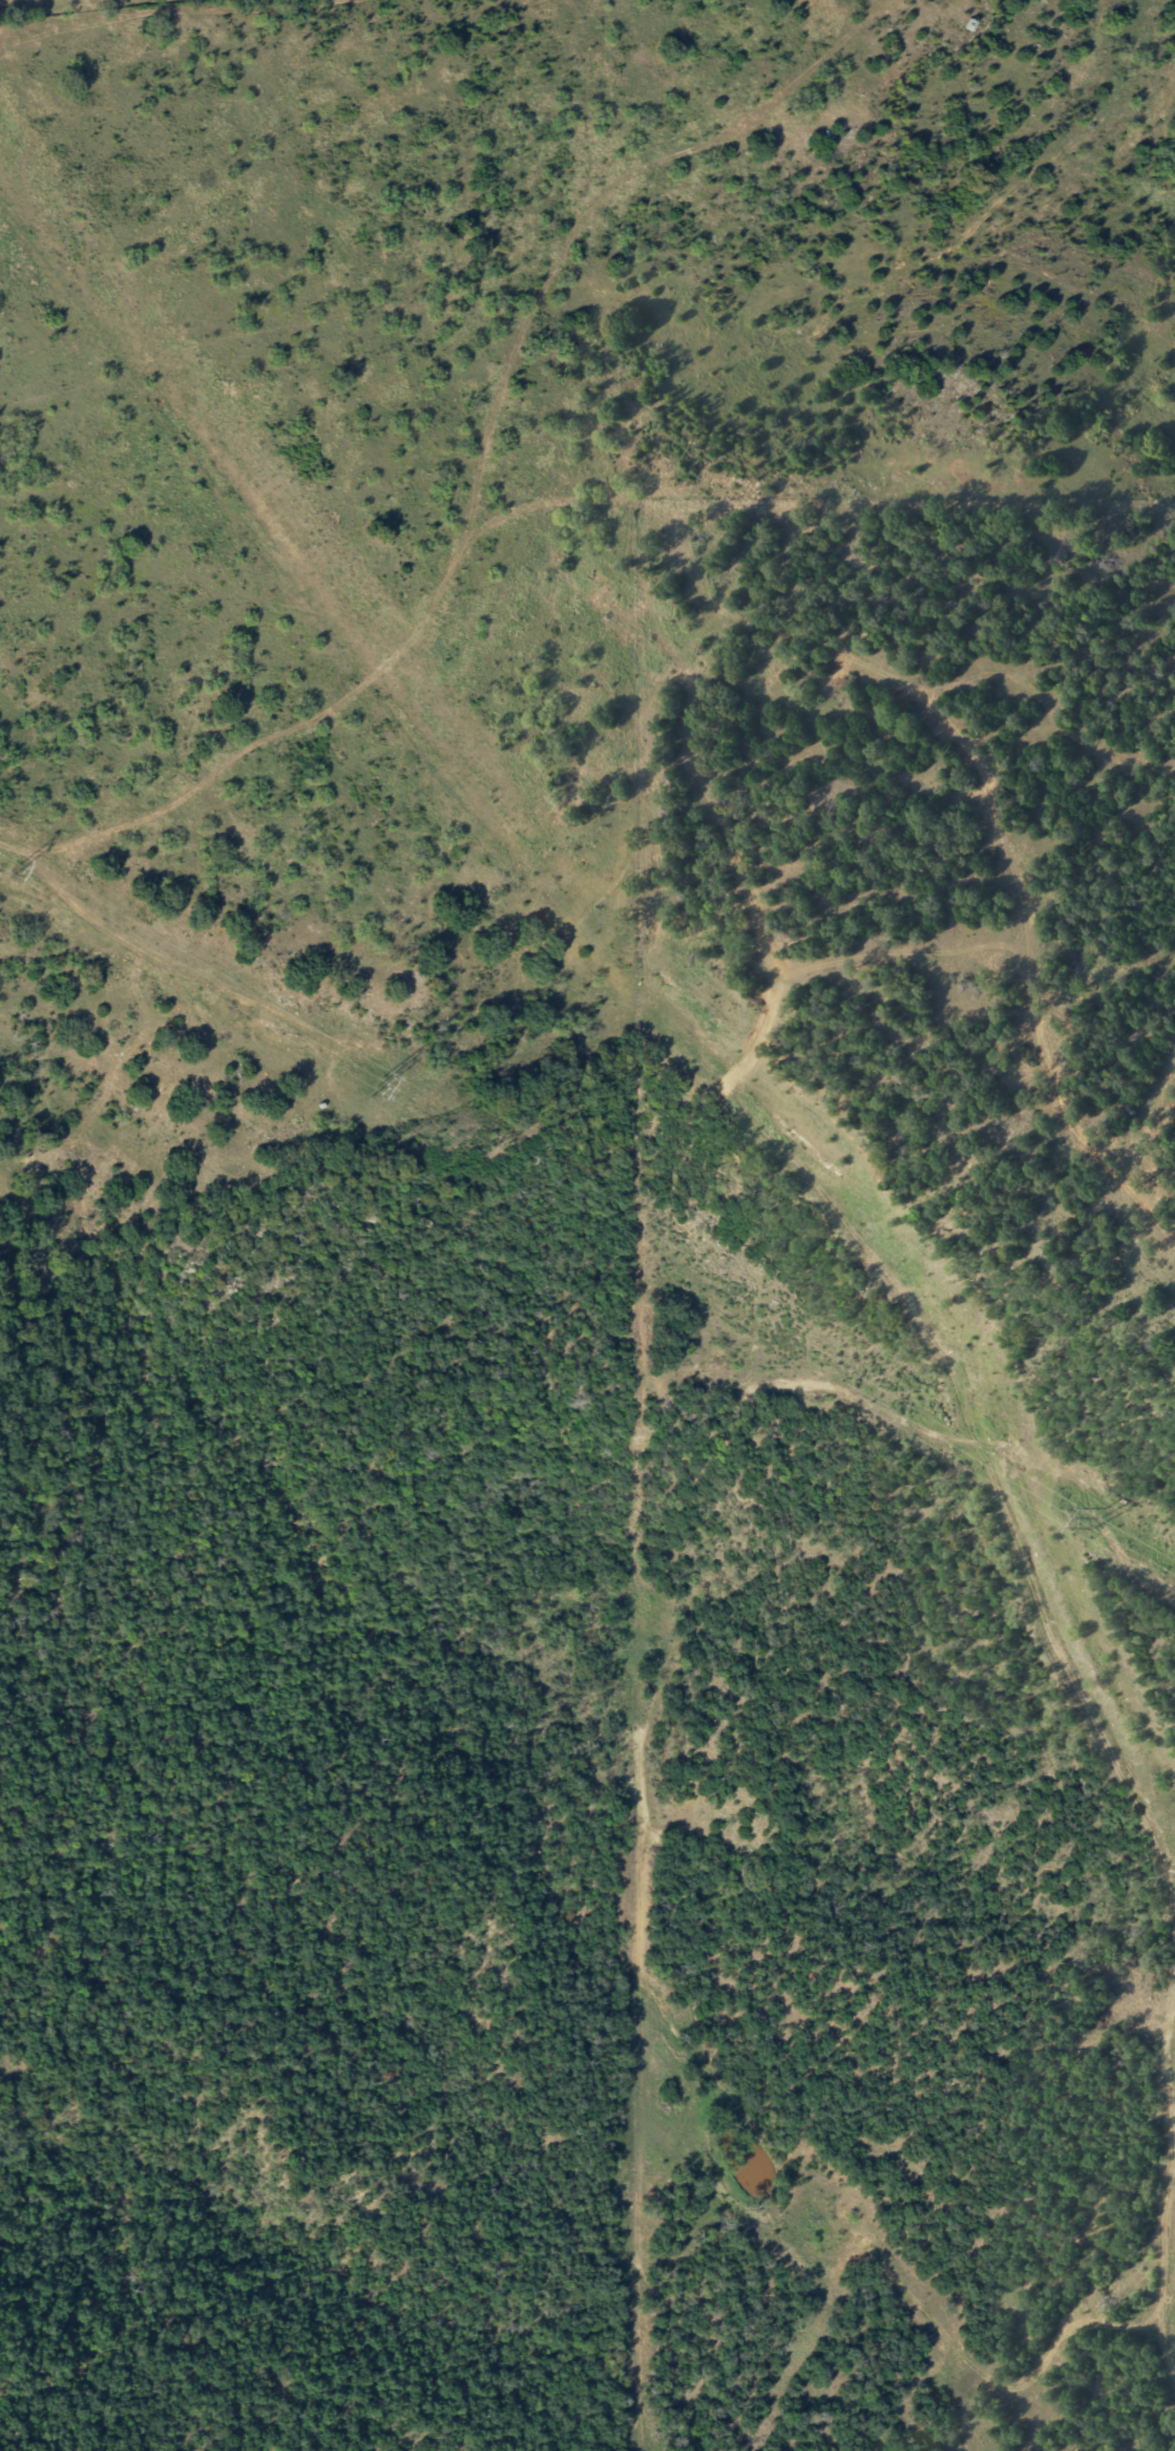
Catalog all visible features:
road: (763, 882)

